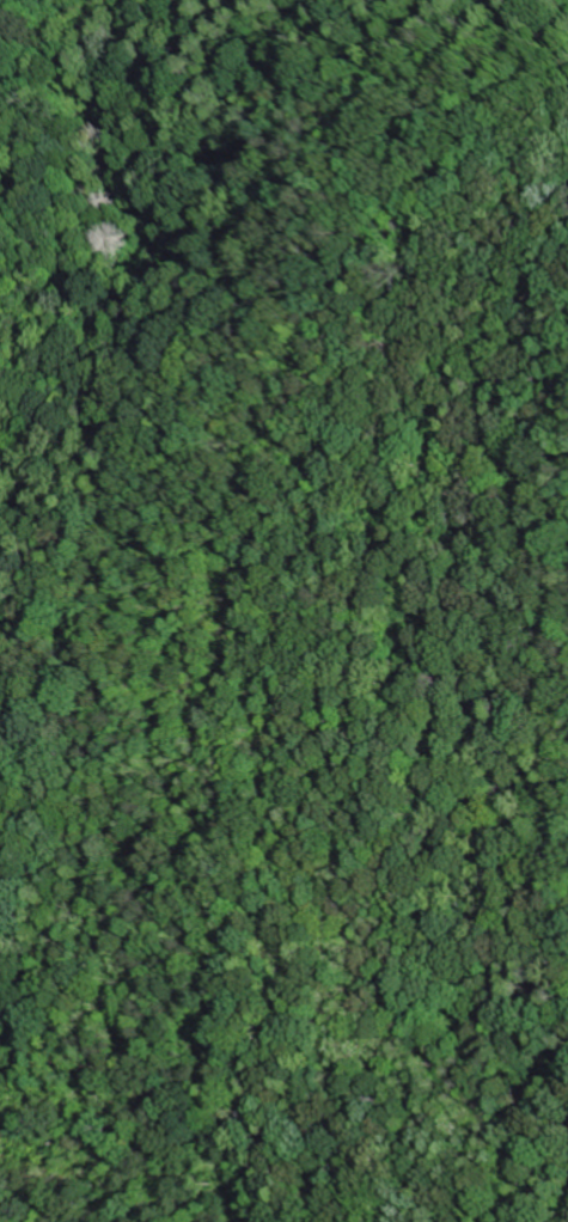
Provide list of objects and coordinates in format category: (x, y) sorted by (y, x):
road: (187, 1107)

